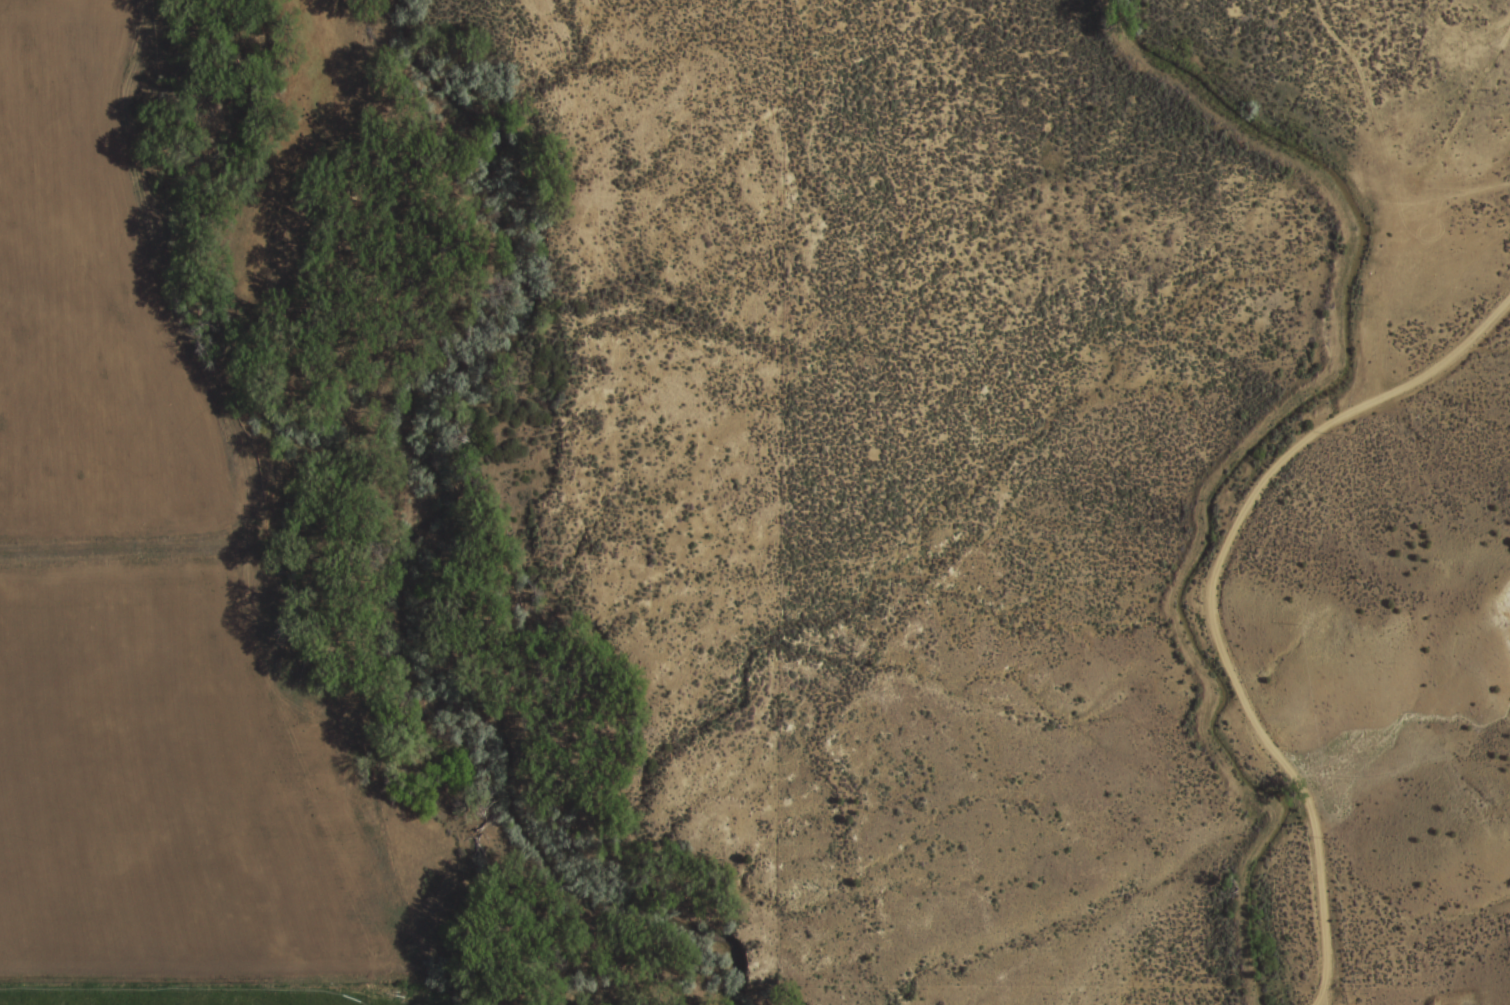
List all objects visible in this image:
river: (432, 533)

